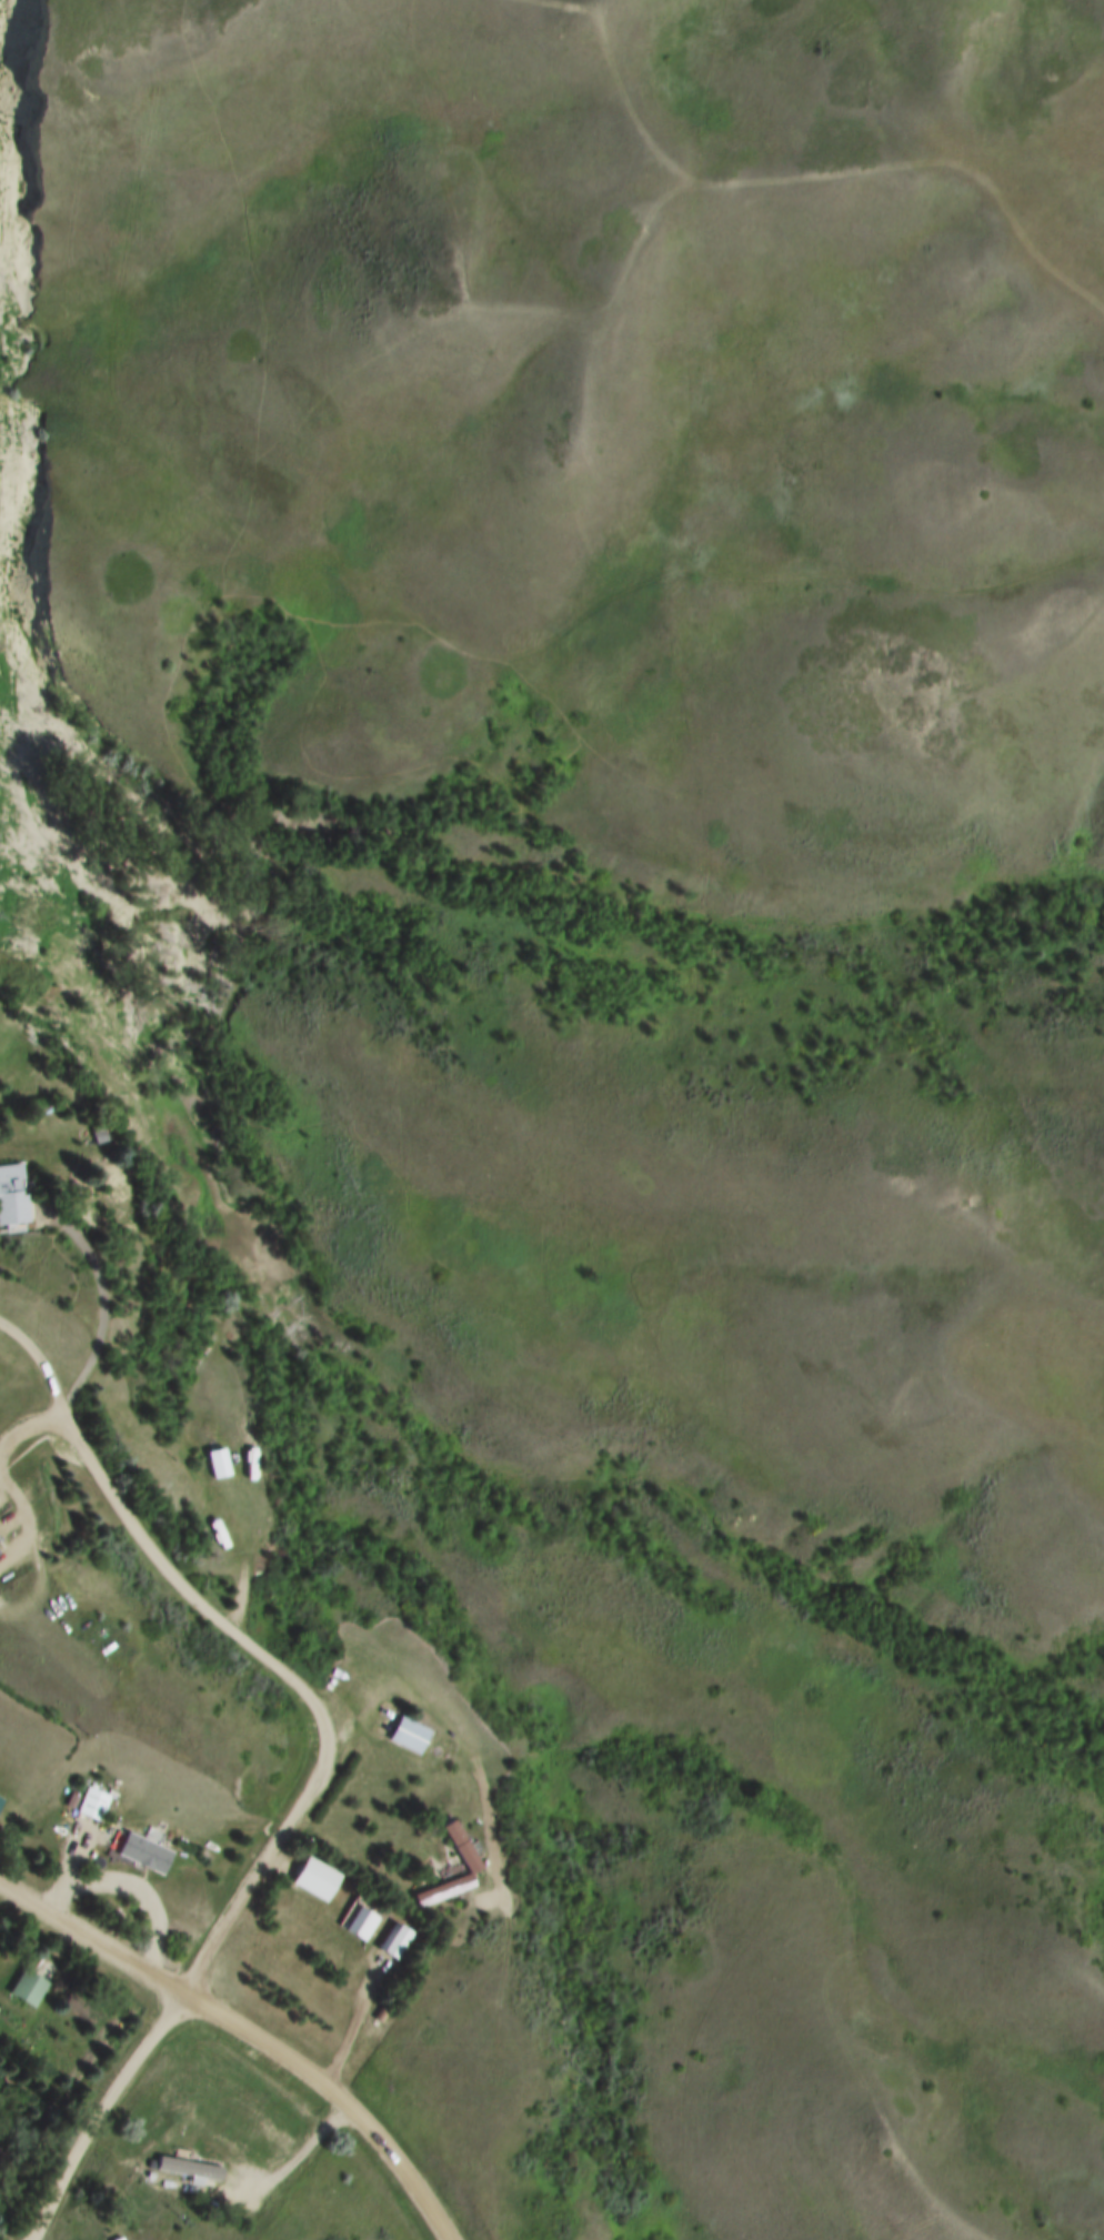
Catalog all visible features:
building: (99, 1134)
building: (114, 1179)
building: (12, 1194)
road: (103, 1304)
building: (218, 1461)
road: (3, 1474)
road: (149, 1551)
building: (1, 1554)
road: (250, 1560)
building: (408, 1735)
road: (460, 1738)
building: (70, 1799)
building: (1, 1801)
building: (92, 1802)
building: (462, 1847)
building: (143, 1851)
building: (312, 1877)
building: (444, 1890)
road: (129, 1891)
building: (360, 1923)
building: (395, 1940)
building: (21, 1985)
road: (190, 1992)
road: (352, 2026)
road: (248, 2033)
building: (185, 2167)
road: (264, 2176)
building: (113, 2238)
building: (121, 2239)

